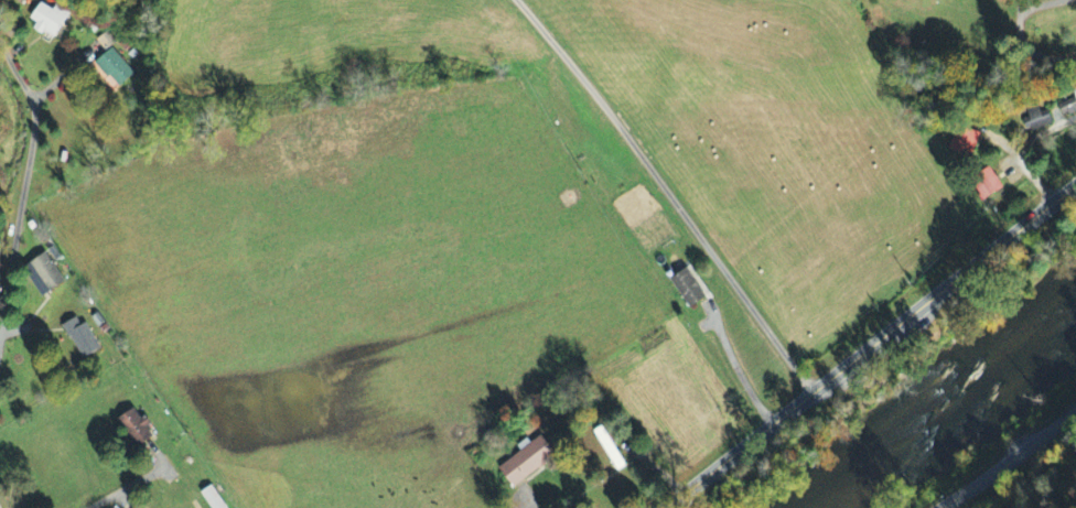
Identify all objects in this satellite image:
building: (924, 0)
building: (49, 21)
road: (1025, 33)
building: (105, 42)
building: (116, 68)
building: (1068, 102)
building: (1035, 116)
building: (972, 139)
building: (1018, 176)
building: (989, 181)
road: (23, 190)
road: (669, 193)
building: (44, 275)
building: (690, 284)
building: (82, 338)
road: (872, 346)
river: (947, 401)
building: (137, 429)
building: (610, 446)
building: (528, 457)
road: (1009, 460)
road: (125, 487)
building: (213, 498)

